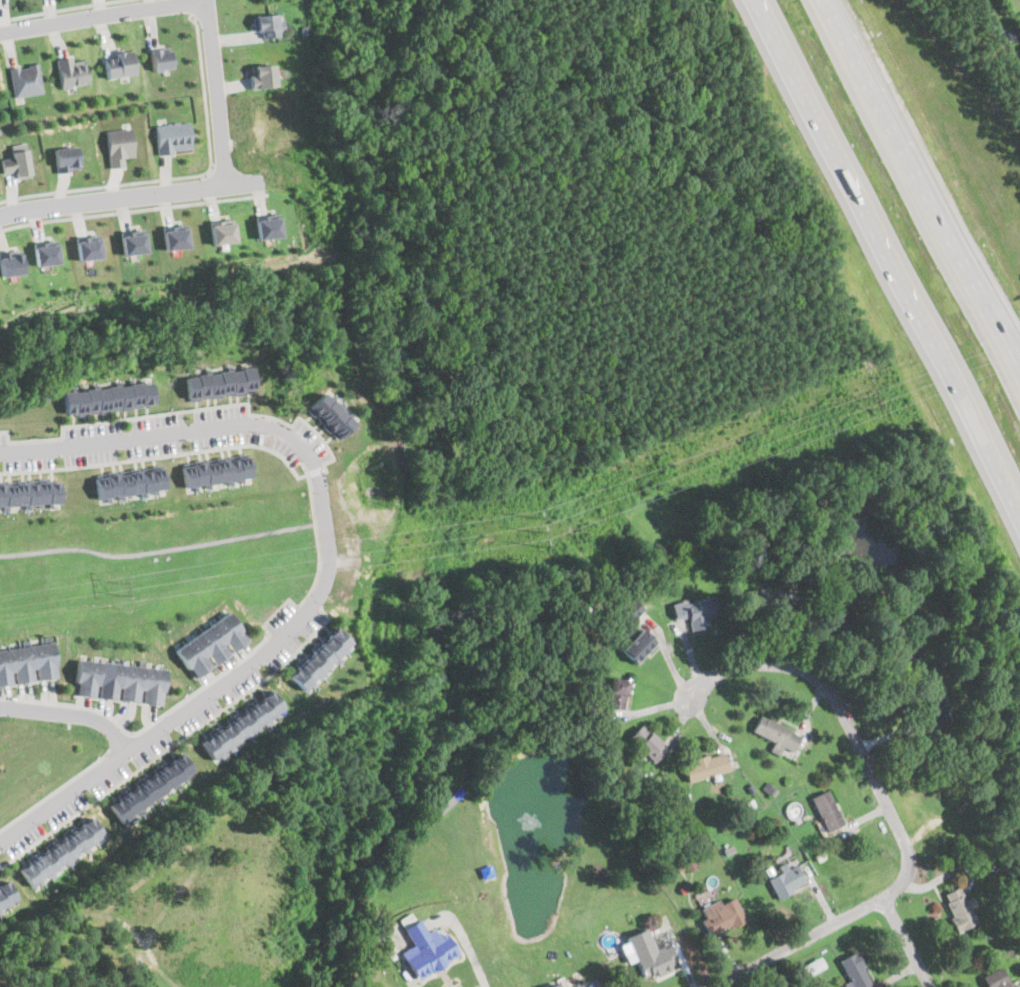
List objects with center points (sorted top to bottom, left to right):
road: (191, 8)
road: (65, 9)
road: (103, 15)
building: (269, 25)
building: (162, 58)
building: (120, 63)
building: (74, 71)
building: (262, 75)
building: (27, 80)
road: (217, 93)
building: (172, 136)
building: (120, 145)
road: (838, 148)
building: (67, 159)
building: (17, 161)
road: (911, 164)
road: (184, 177)
road: (209, 187)
road: (131, 197)
road: (133, 210)
building: (268, 225)
building: (222, 231)
building: (176, 236)
building: (134, 242)
building: (88, 246)
building: (46, 252)
building: (11, 263)
road: (1009, 349)
building: (219, 383)
building: (109, 398)
road: (968, 401)
power tower: (866, 402)
road: (185, 411)
building: (329, 415)
road: (163, 433)
road: (159, 457)
building: (218, 471)
road: (316, 471)
building: (131, 481)
building: (31, 492)
power tower: (537, 529)
road: (157, 547)
power tower: (119, 588)
building: (783, 605)
building: (699, 611)
building: (840, 620)
building: (211, 645)
building: (639, 645)
building: (896, 655)
building: (319, 657)
building: (26, 664)
road: (233, 665)
building: (118, 681)
road: (221, 685)
building: (616, 692)
building: (933, 708)
road: (71, 714)
building: (242, 725)
building: (776, 733)
road: (119, 743)
building: (650, 747)
building: (706, 765)
building: (150, 786)
road: (54, 792)
building: (442, 804)
road: (889, 804)
building: (827, 809)
building: (59, 850)
building: (787, 881)
building: (2, 901)
building: (959, 909)
building: (722, 915)
road: (909, 940)
building: (427, 948)
building: (649, 953)
building: (812, 965)
building: (854, 971)
building: (999, 979)
building: (553, 984)
road: (722, 984)
building: (576, 985)
road: (414, 986)

